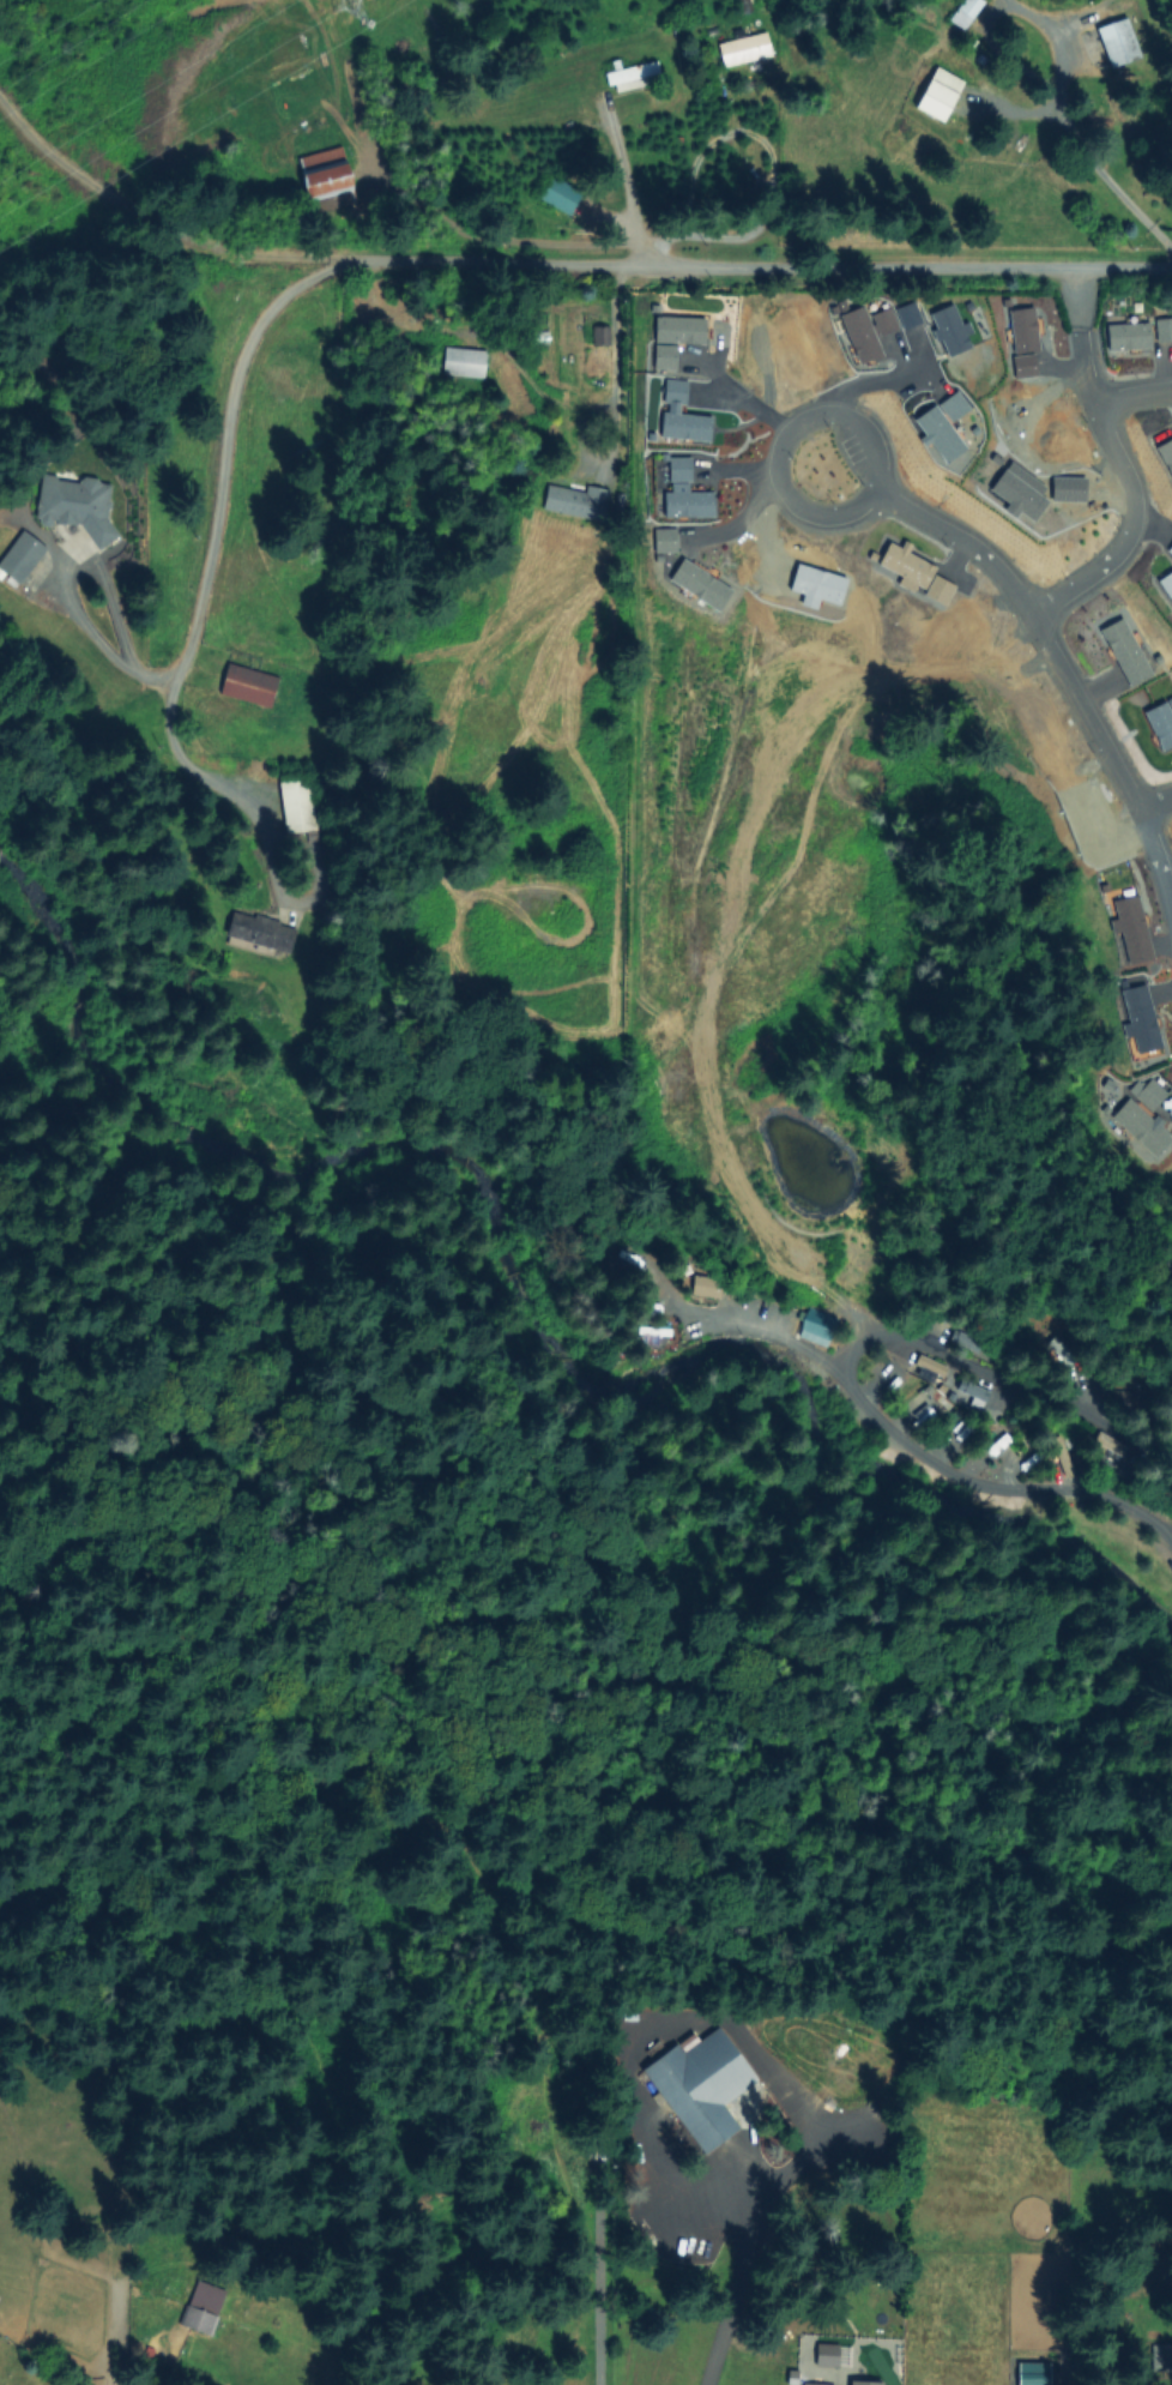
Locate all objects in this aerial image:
building: (747, 5)
building: (966, 12)
building: (1119, 42)
building: (745, 49)
building: (634, 76)
building: (944, 95)
road: (1068, 132)
road: (768, 167)
building: (330, 183)
road: (622, 191)
building: (561, 193)
road: (515, 267)
building: (914, 314)
building: (685, 329)
building: (956, 329)
building: (1167, 329)
building: (602, 333)
building: (868, 333)
building: (896, 333)
building: (1134, 335)
building: (1029, 341)
building: (670, 355)
building: (466, 360)
road: (614, 368)
road: (875, 384)
building: (681, 390)
road: (1131, 393)
building: (961, 406)
building: (691, 426)
building: (947, 434)
road: (790, 445)
building: (1168, 451)
building: (687, 469)
building: (1073, 489)
building: (1026, 495)
building: (578, 501)
building: (694, 501)
building: (78, 505)
building: (671, 540)
road: (966, 547)
building: (23, 558)
building: (912, 565)
building: (766, 574)
building: (706, 582)
building: (1170, 582)
road: (61, 586)
building: (823, 588)
building: (946, 590)
road: (1055, 598)
building: (1132, 651)
building: (254, 685)
building: (1164, 722)
road: (217, 790)
road: (1152, 797)
building: (296, 808)
building: (1095, 813)
building: (1106, 854)
building: (1137, 933)
building: (261, 934)
building: (1144, 1022)
building: (1150, 1094)
building: (1142, 1130)
road: (761, 1327)
building: (815, 1331)
building: (657, 1335)
road: (846, 1378)
building: (887, 1384)
building: (691, 2101)
road: (672, 2233)
building: (203, 2303)
building: (1161, 2356)
building: (1028, 2374)
building: (866, 2384)

